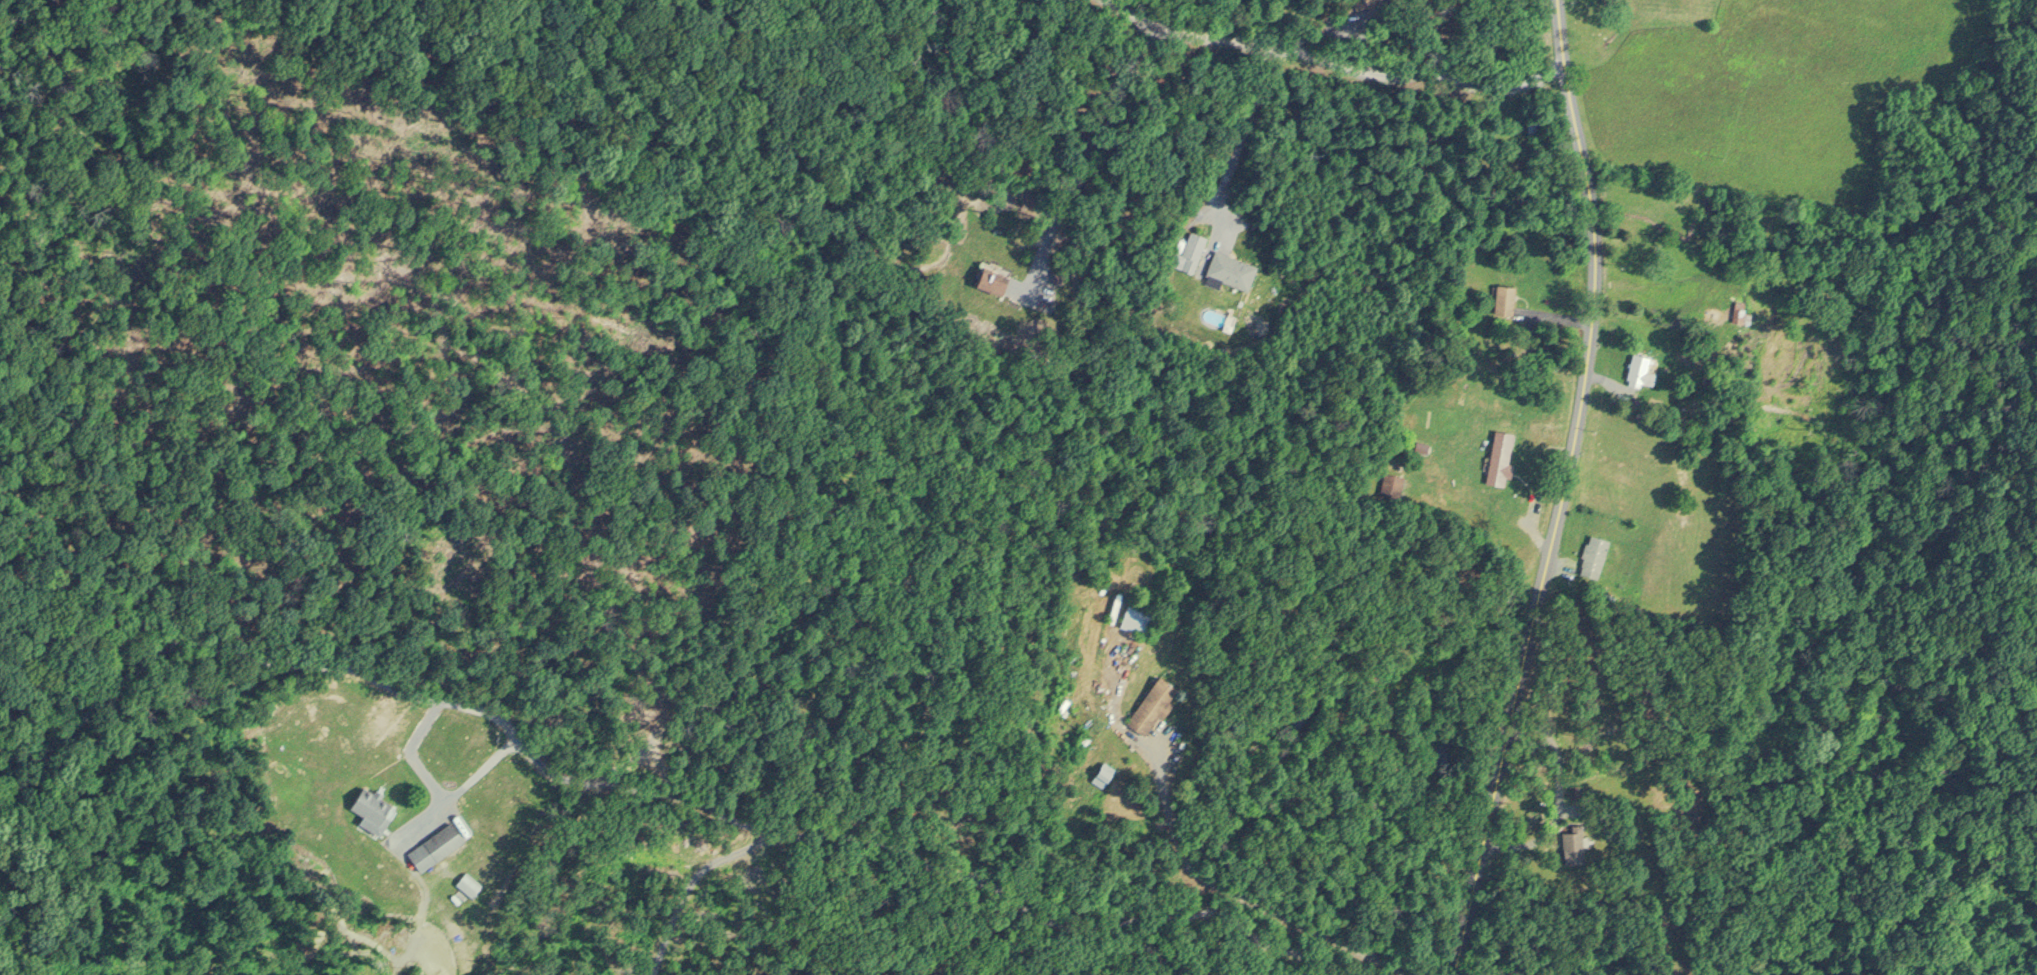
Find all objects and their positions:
road: (1331, 64)
building: (1531, 121)
road: (1240, 139)
road: (1081, 162)
building: (1189, 250)
building: (1231, 269)
building: (994, 277)
building: (1505, 297)
building: (1742, 313)
building: (1641, 368)
building: (1501, 454)
road: (1553, 490)
building: (1594, 553)
building: (1138, 618)
road: (187, 650)
building: (1153, 704)
road: (408, 756)
building: (1104, 772)
road: (1556, 800)
building: (373, 805)
building: (437, 841)
road: (928, 859)
road: (1199, 872)
road: (691, 882)

